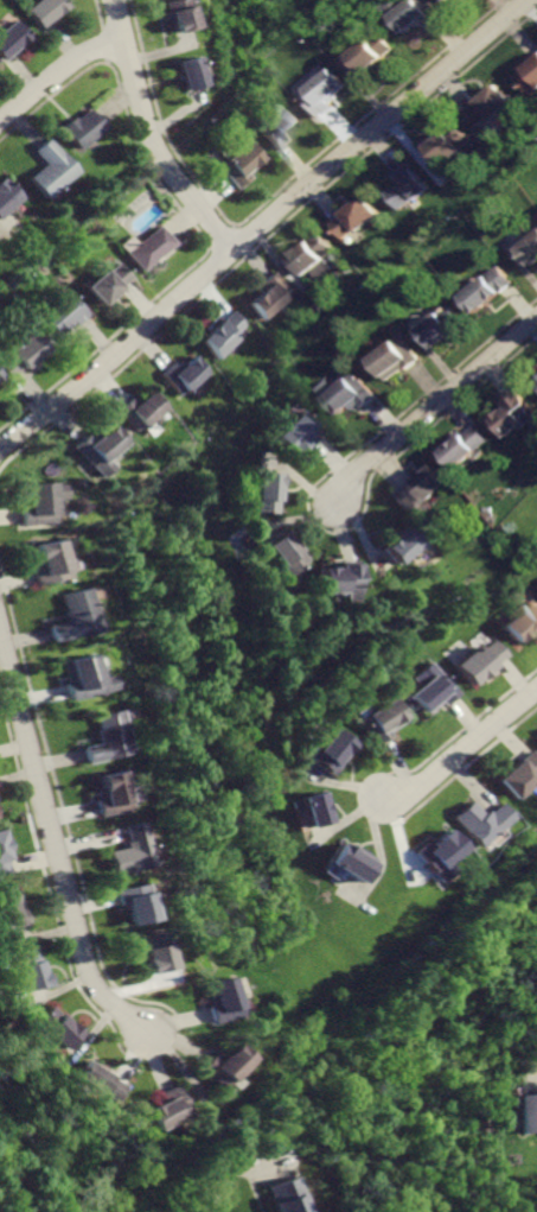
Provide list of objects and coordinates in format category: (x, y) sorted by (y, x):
building: (447, 0)
building: (452, 1)
building: (44, 11)
building: (413, 14)
building: (170, 15)
building: (11, 39)
building: (373, 52)
building: (181, 72)
road: (56, 76)
building: (528, 80)
building: (327, 93)
building: (488, 108)
building: (79, 128)
building: (276, 129)
road: (145, 137)
building: (449, 146)
building: (236, 166)
building: (49, 171)
building: (404, 191)
building: (5, 195)
building: (353, 221)
road: (263, 222)
building: (146, 248)
building: (529, 250)
building: (314, 255)
building: (103, 284)
building: (485, 290)
building: (269, 296)
building: (55, 318)
building: (443, 326)
building: (222, 334)
building: (15, 354)
building: (392, 360)
building: (178, 372)
building: (351, 398)
road: (434, 405)
building: (132, 411)
building: (517, 413)
building: (300, 437)
building: (466, 448)
building: (88, 451)
building: (424, 489)
building: (269, 493)
building: (34, 502)
building: (408, 544)
building: (290, 554)
building: (46, 565)
building: (349, 580)
building: (68, 620)
building: (524, 624)
building: (484, 665)
building: (76, 678)
building: (437, 691)
building: (388, 723)
building: (97, 741)
road: (464, 751)
building: (333, 753)
building: (519, 778)
building: (103, 797)
building: (0, 798)
building: (320, 811)
building: (481, 821)
road: (53, 839)
building: (437, 851)
building: (124, 854)
building: (6, 857)
building: (353, 865)
building: (130, 901)
building: (13, 912)
building: (149, 953)
building: (32, 969)
building: (215, 1002)
building: (59, 1024)
building: (218, 1064)
building: (98, 1079)
road: (530, 1079)
building: (166, 1106)
building: (526, 1112)
road: (200, 1116)
road: (248, 1165)
building: (279, 1195)

